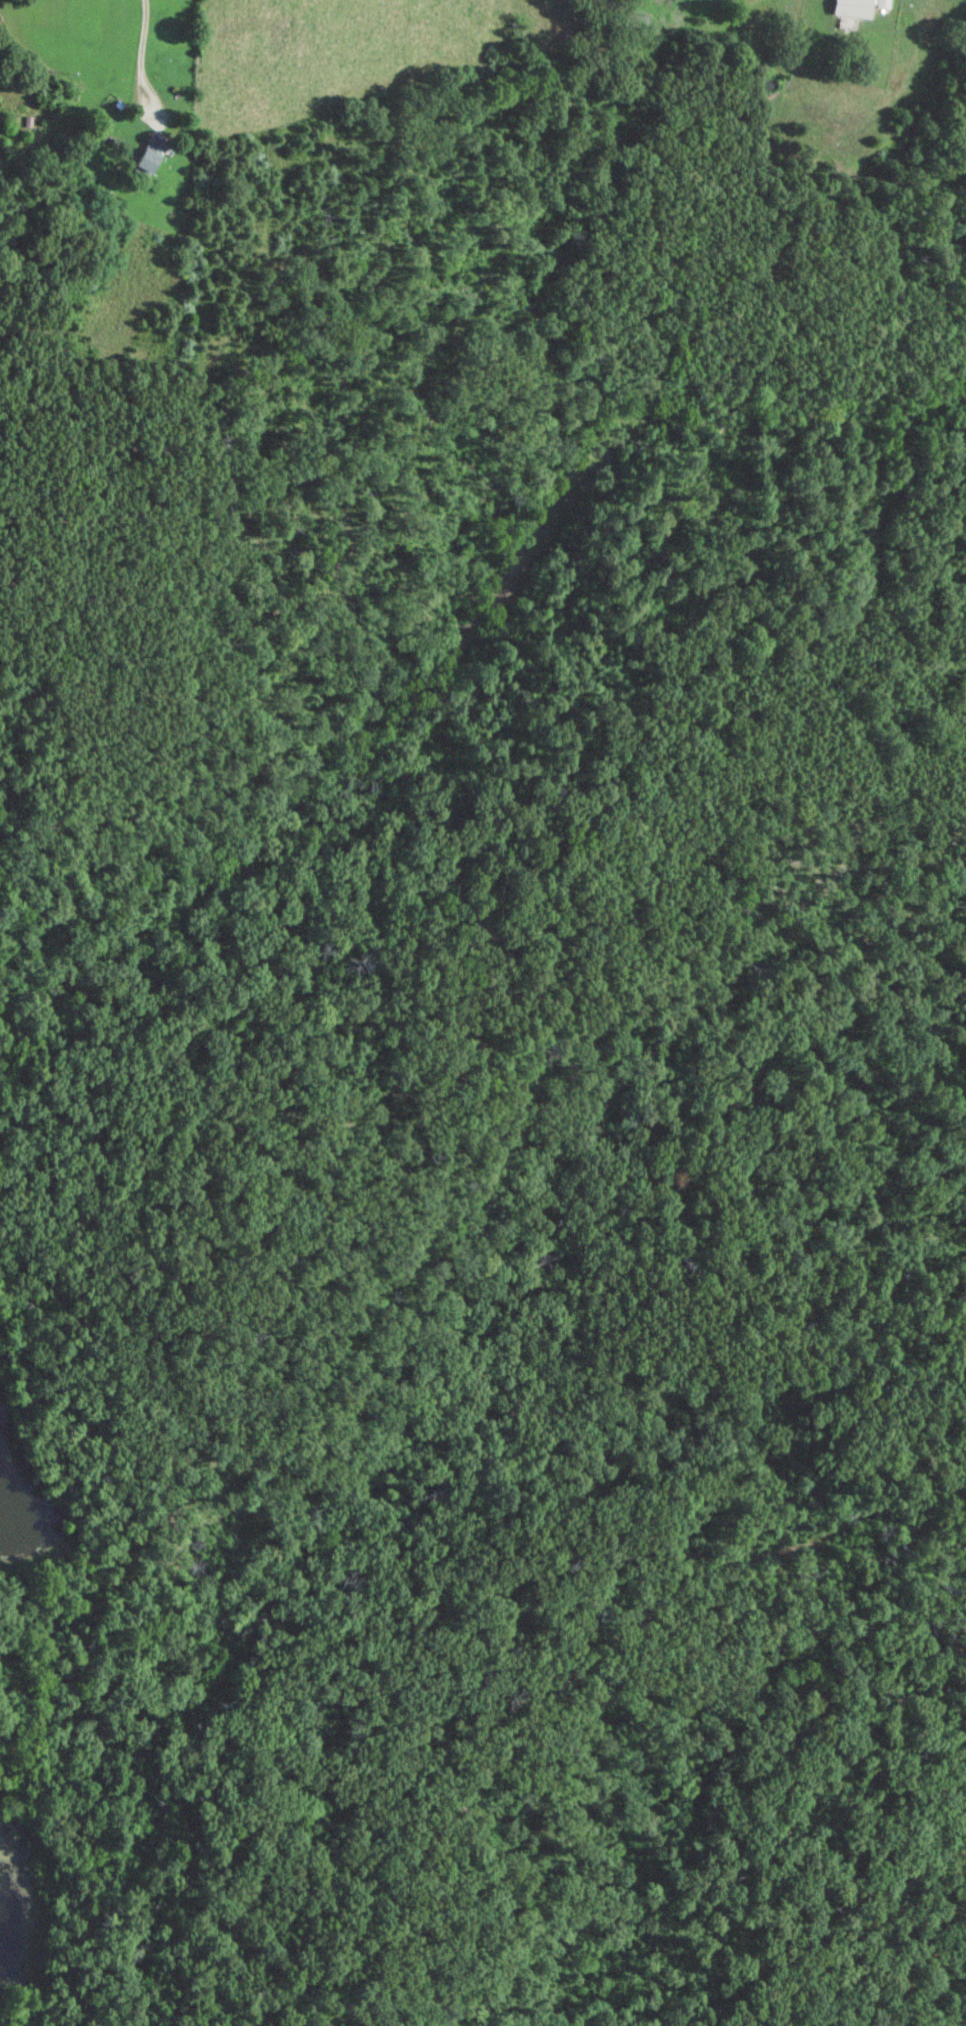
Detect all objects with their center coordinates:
building: (852, 7)
building: (151, 154)

